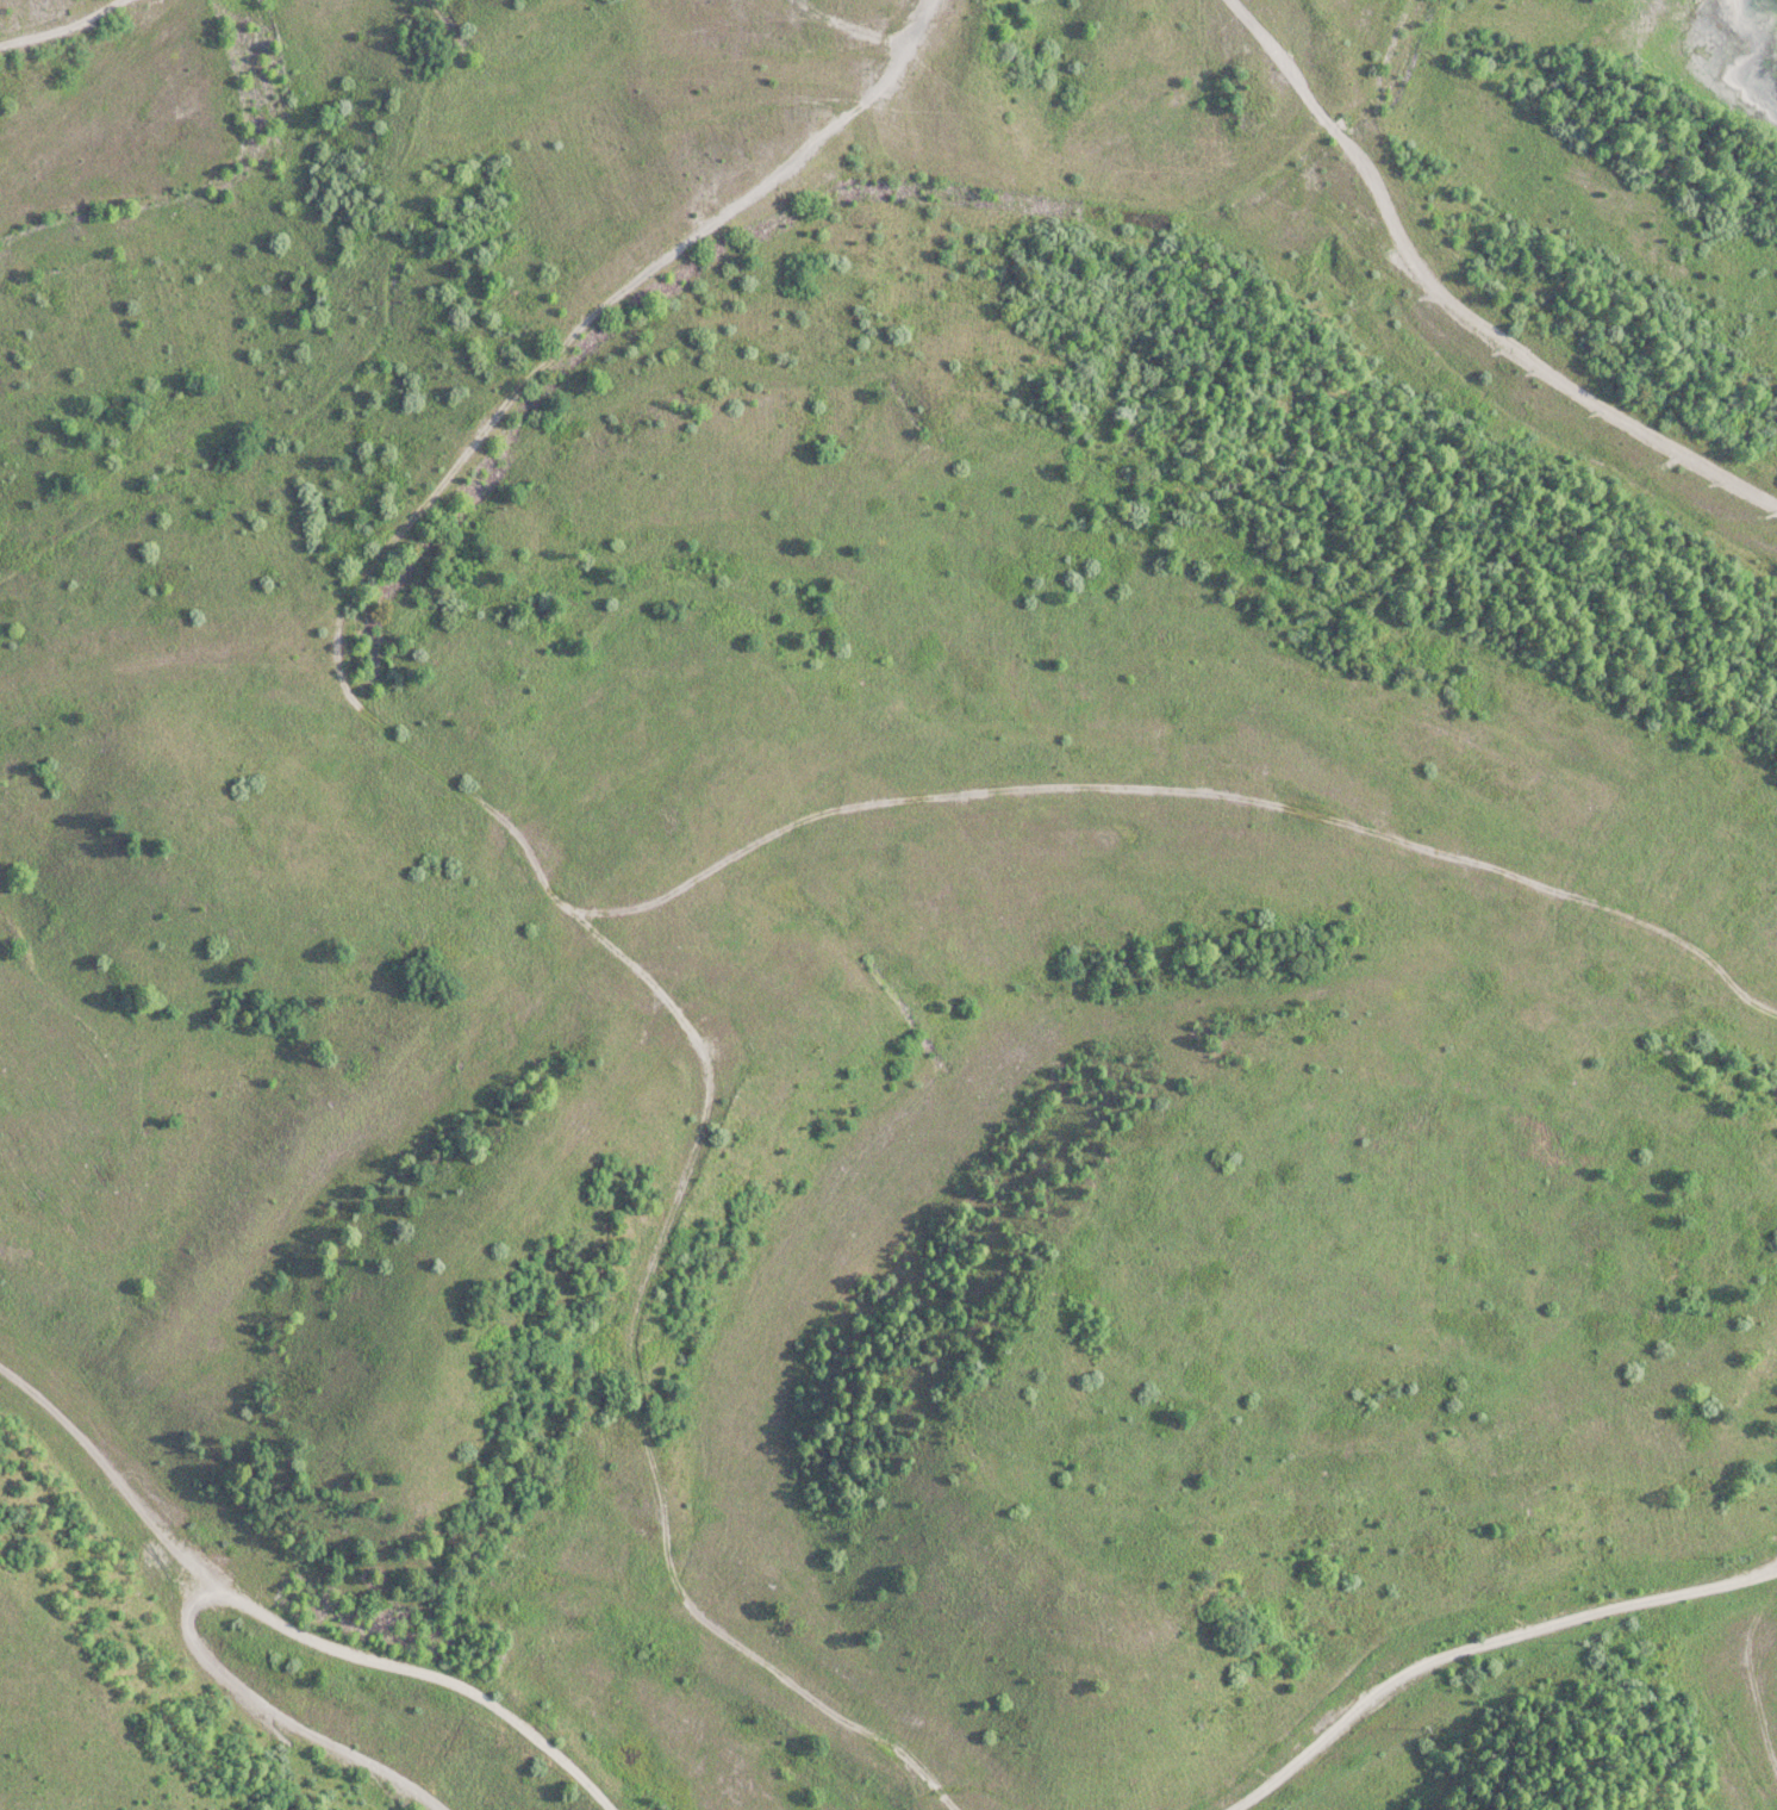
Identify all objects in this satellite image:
quarry: (883, 898)

